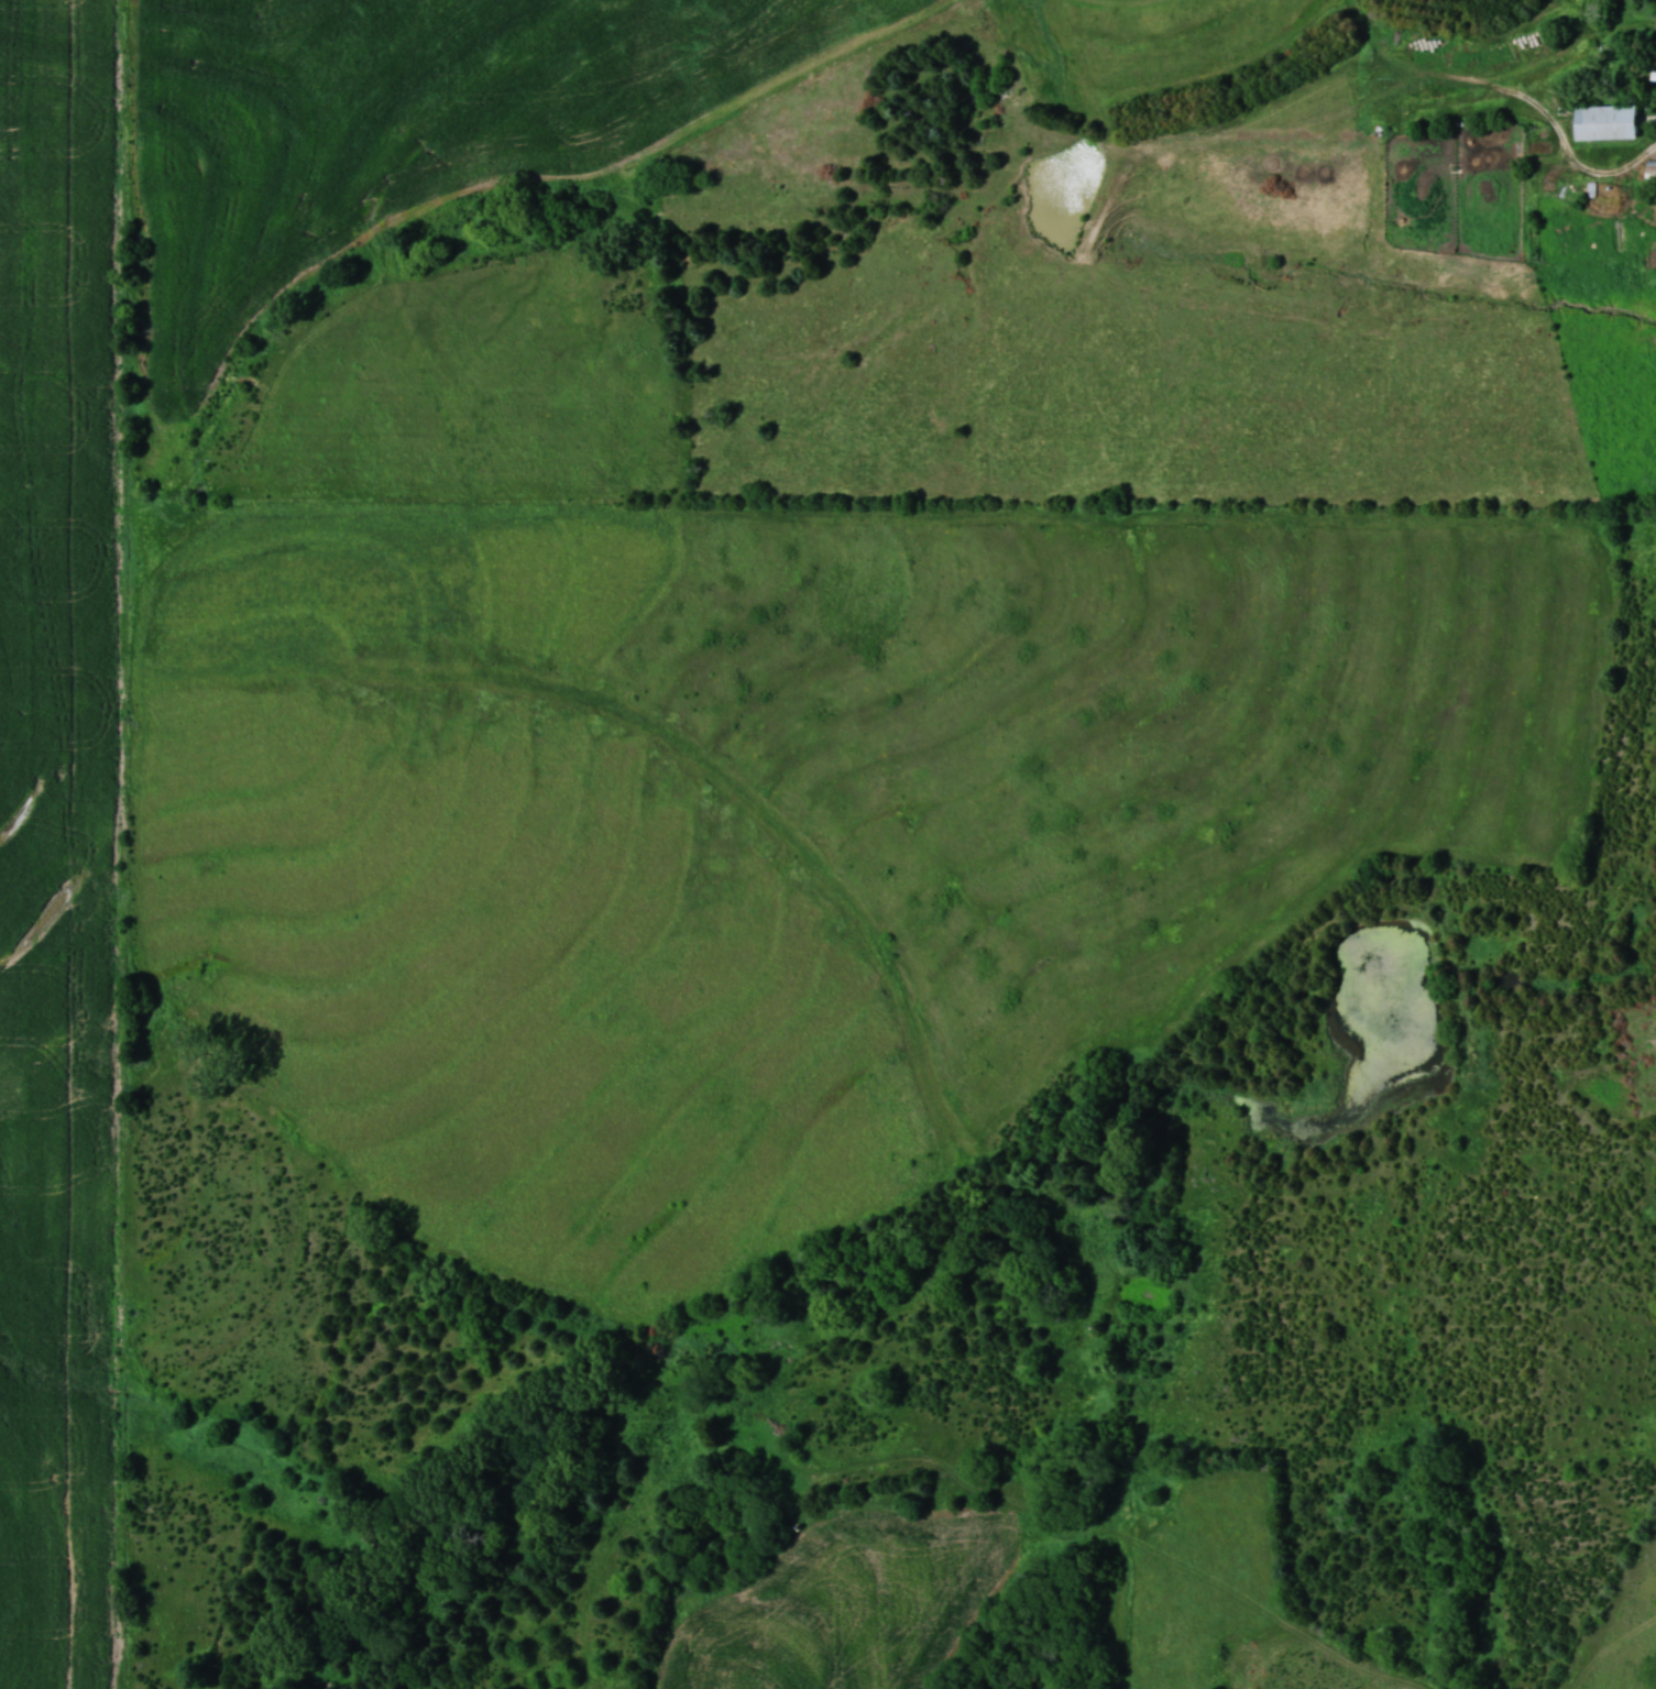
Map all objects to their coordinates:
building: (1654, 73)
building: (1606, 121)
building: (1652, 172)

